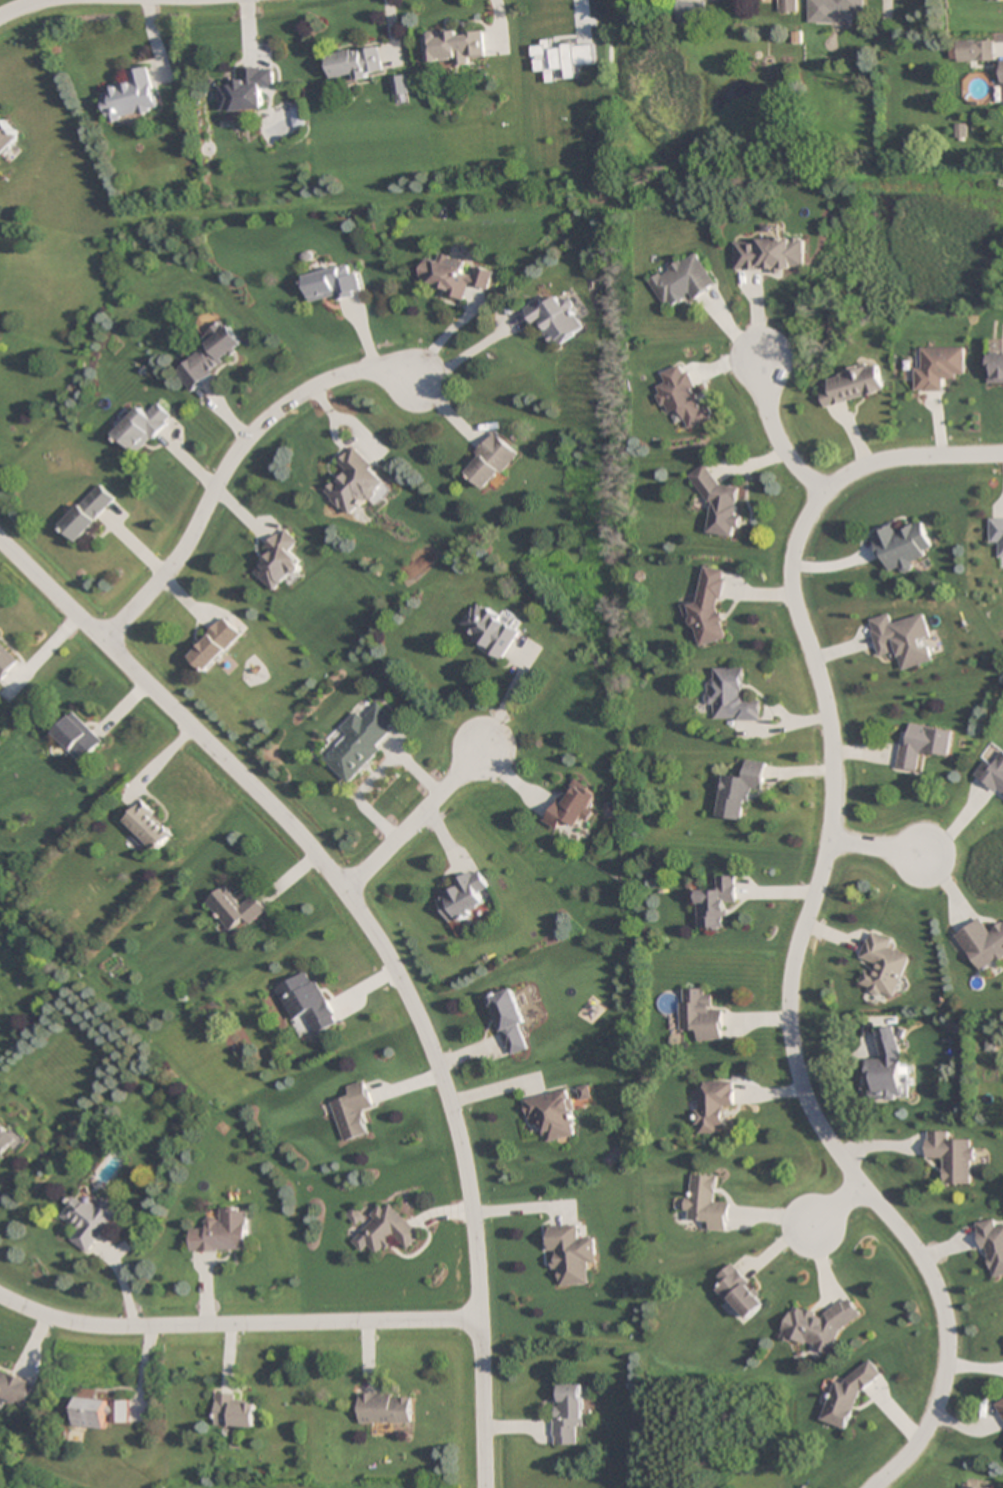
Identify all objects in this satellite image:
building: (997, 0)
building: (786, 6)
road: (28, 8)
building: (831, 10)
building: (689, 11)
building: (455, 47)
building: (974, 51)
building: (562, 59)
building: (357, 63)
building: (1002, 80)
building: (248, 91)
building: (131, 97)
building: (6, 136)
building: (768, 255)
building: (453, 280)
building: (680, 281)
building: (329, 285)
building: (554, 322)
building: (209, 356)
building: (937, 367)
building: (995, 370)
building: (851, 384)
building: (681, 396)
building: (140, 428)
road: (775, 436)
building: (490, 461)
road: (228, 462)
building: (353, 484)
building: (718, 502)
building: (87, 513)
building: (997, 533)
building: (902, 546)
building: (278, 561)
building: (709, 609)
building: (489, 630)
building: (904, 639)
building: (213, 644)
building: (5, 661)
building: (732, 696)
building: (75, 738)
building: (360, 740)
building: (923, 745)
building: (992, 773)
building: (741, 790)
building: (573, 804)
road: (416, 819)
building: (146, 826)
road: (876, 849)
building: (463, 897)
building: (717, 903)
building: (233, 909)
road: (806, 923)
building: (982, 944)
road: (381, 947)
building: (882, 966)
building: (306, 1002)
building: (700, 1015)
building: (507, 1019)
building: (886, 1067)
building: (712, 1105)
building: (353, 1112)
building: (552, 1115)
building: (6, 1140)
building: (952, 1156)
building: (707, 1201)
road: (838, 1206)
building: (89, 1221)
building: (386, 1231)
building: (222, 1233)
building: (992, 1244)
building: (571, 1254)
building: (740, 1293)
road: (237, 1324)
building: (818, 1327)
building: (14, 1390)
building: (846, 1399)
building: (384, 1409)
building: (102, 1412)
building: (234, 1412)
building: (566, 1413)
building: (1001, 1415)
building: (966, 1487)

